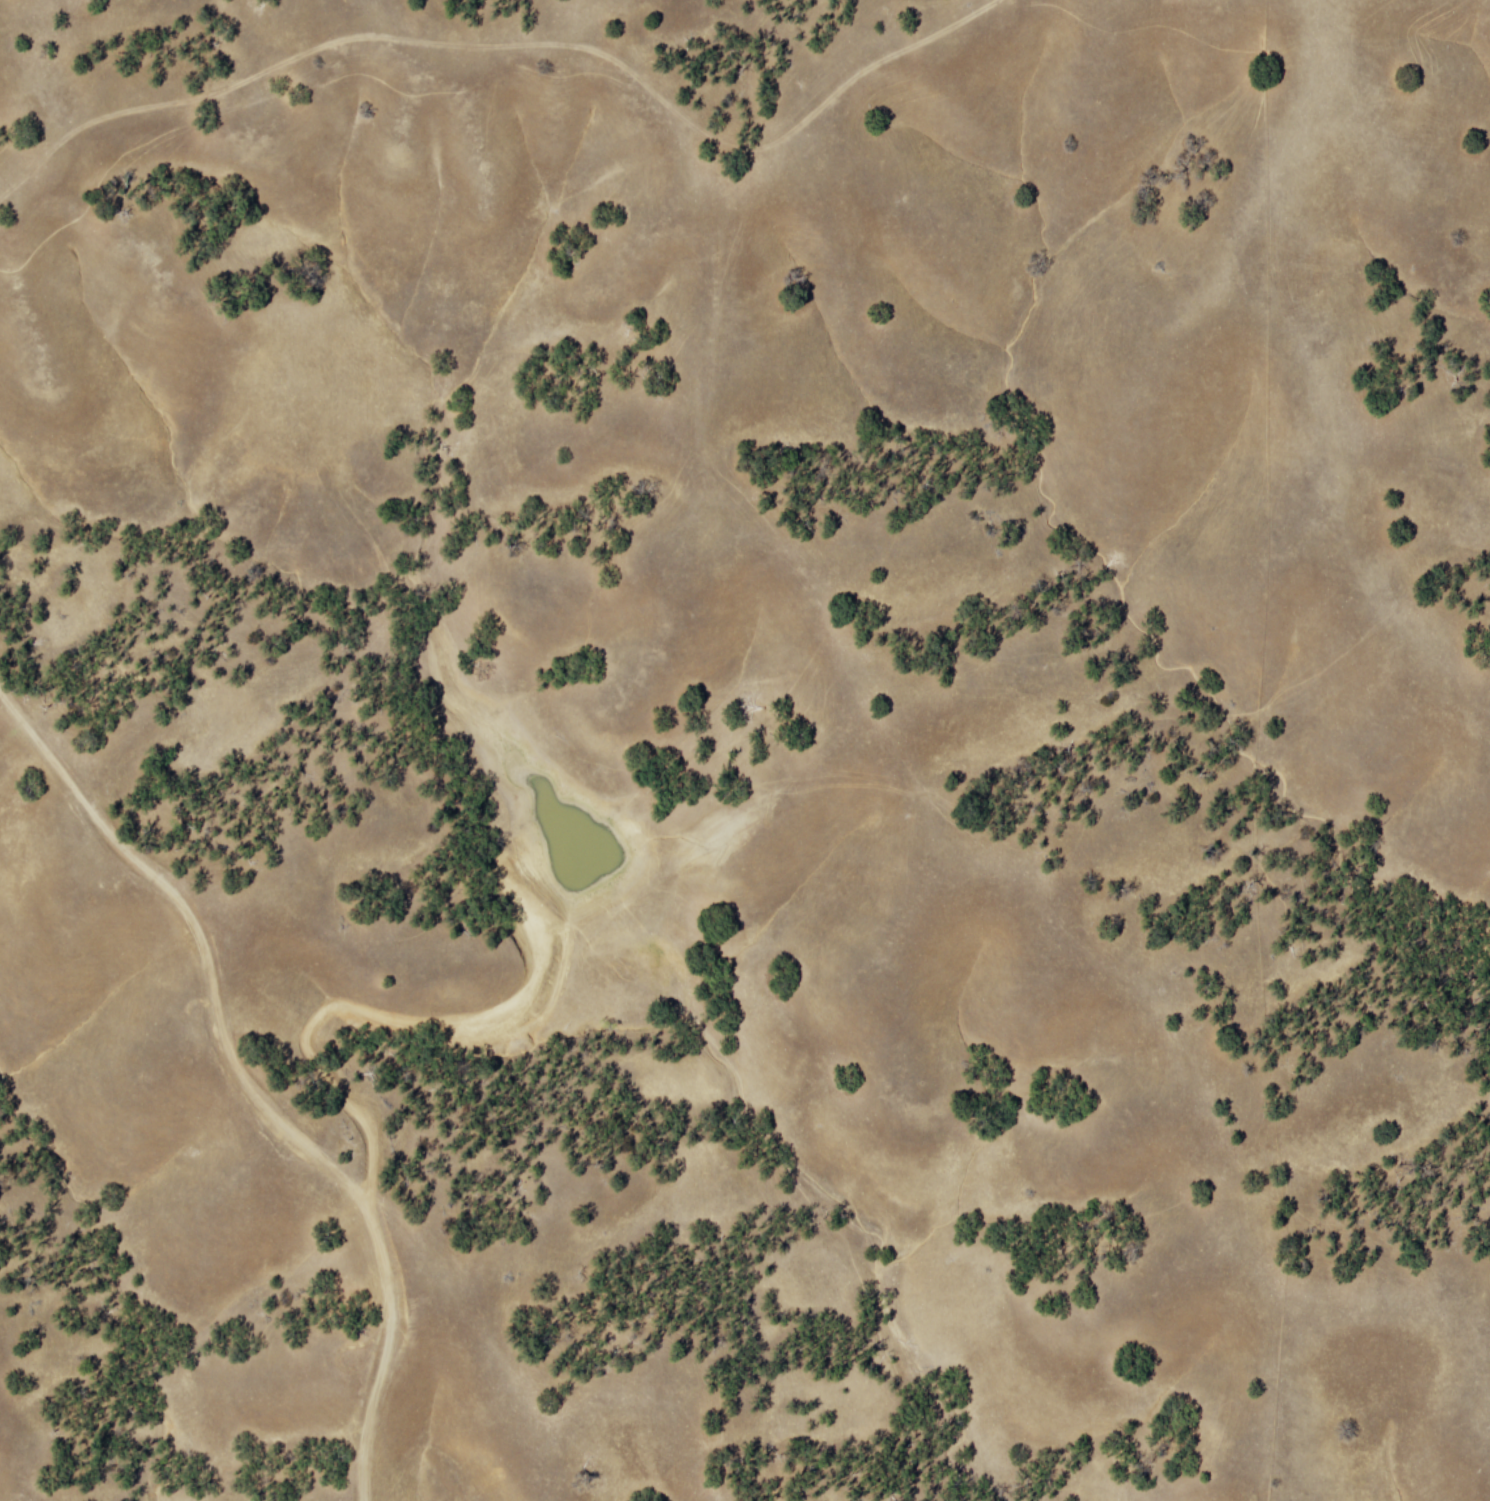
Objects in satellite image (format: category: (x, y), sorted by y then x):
road: (514, 43)
road: (247, 1080)

